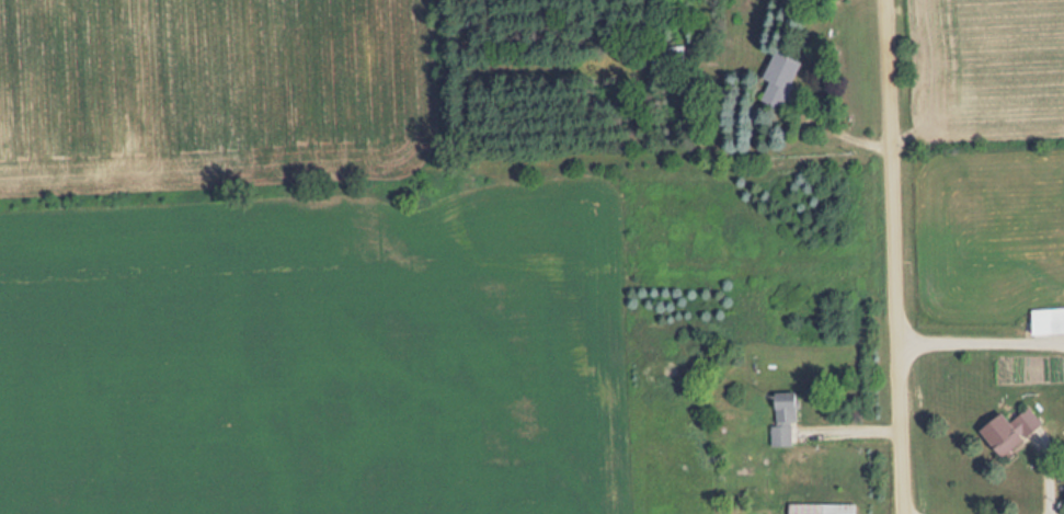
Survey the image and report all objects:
building: (672, 58)
building: (786, 79)
road: (885, 256)
building: (1050, 320)
building: (788, 415)
building: (1020, 432)
building: (825, 507)

